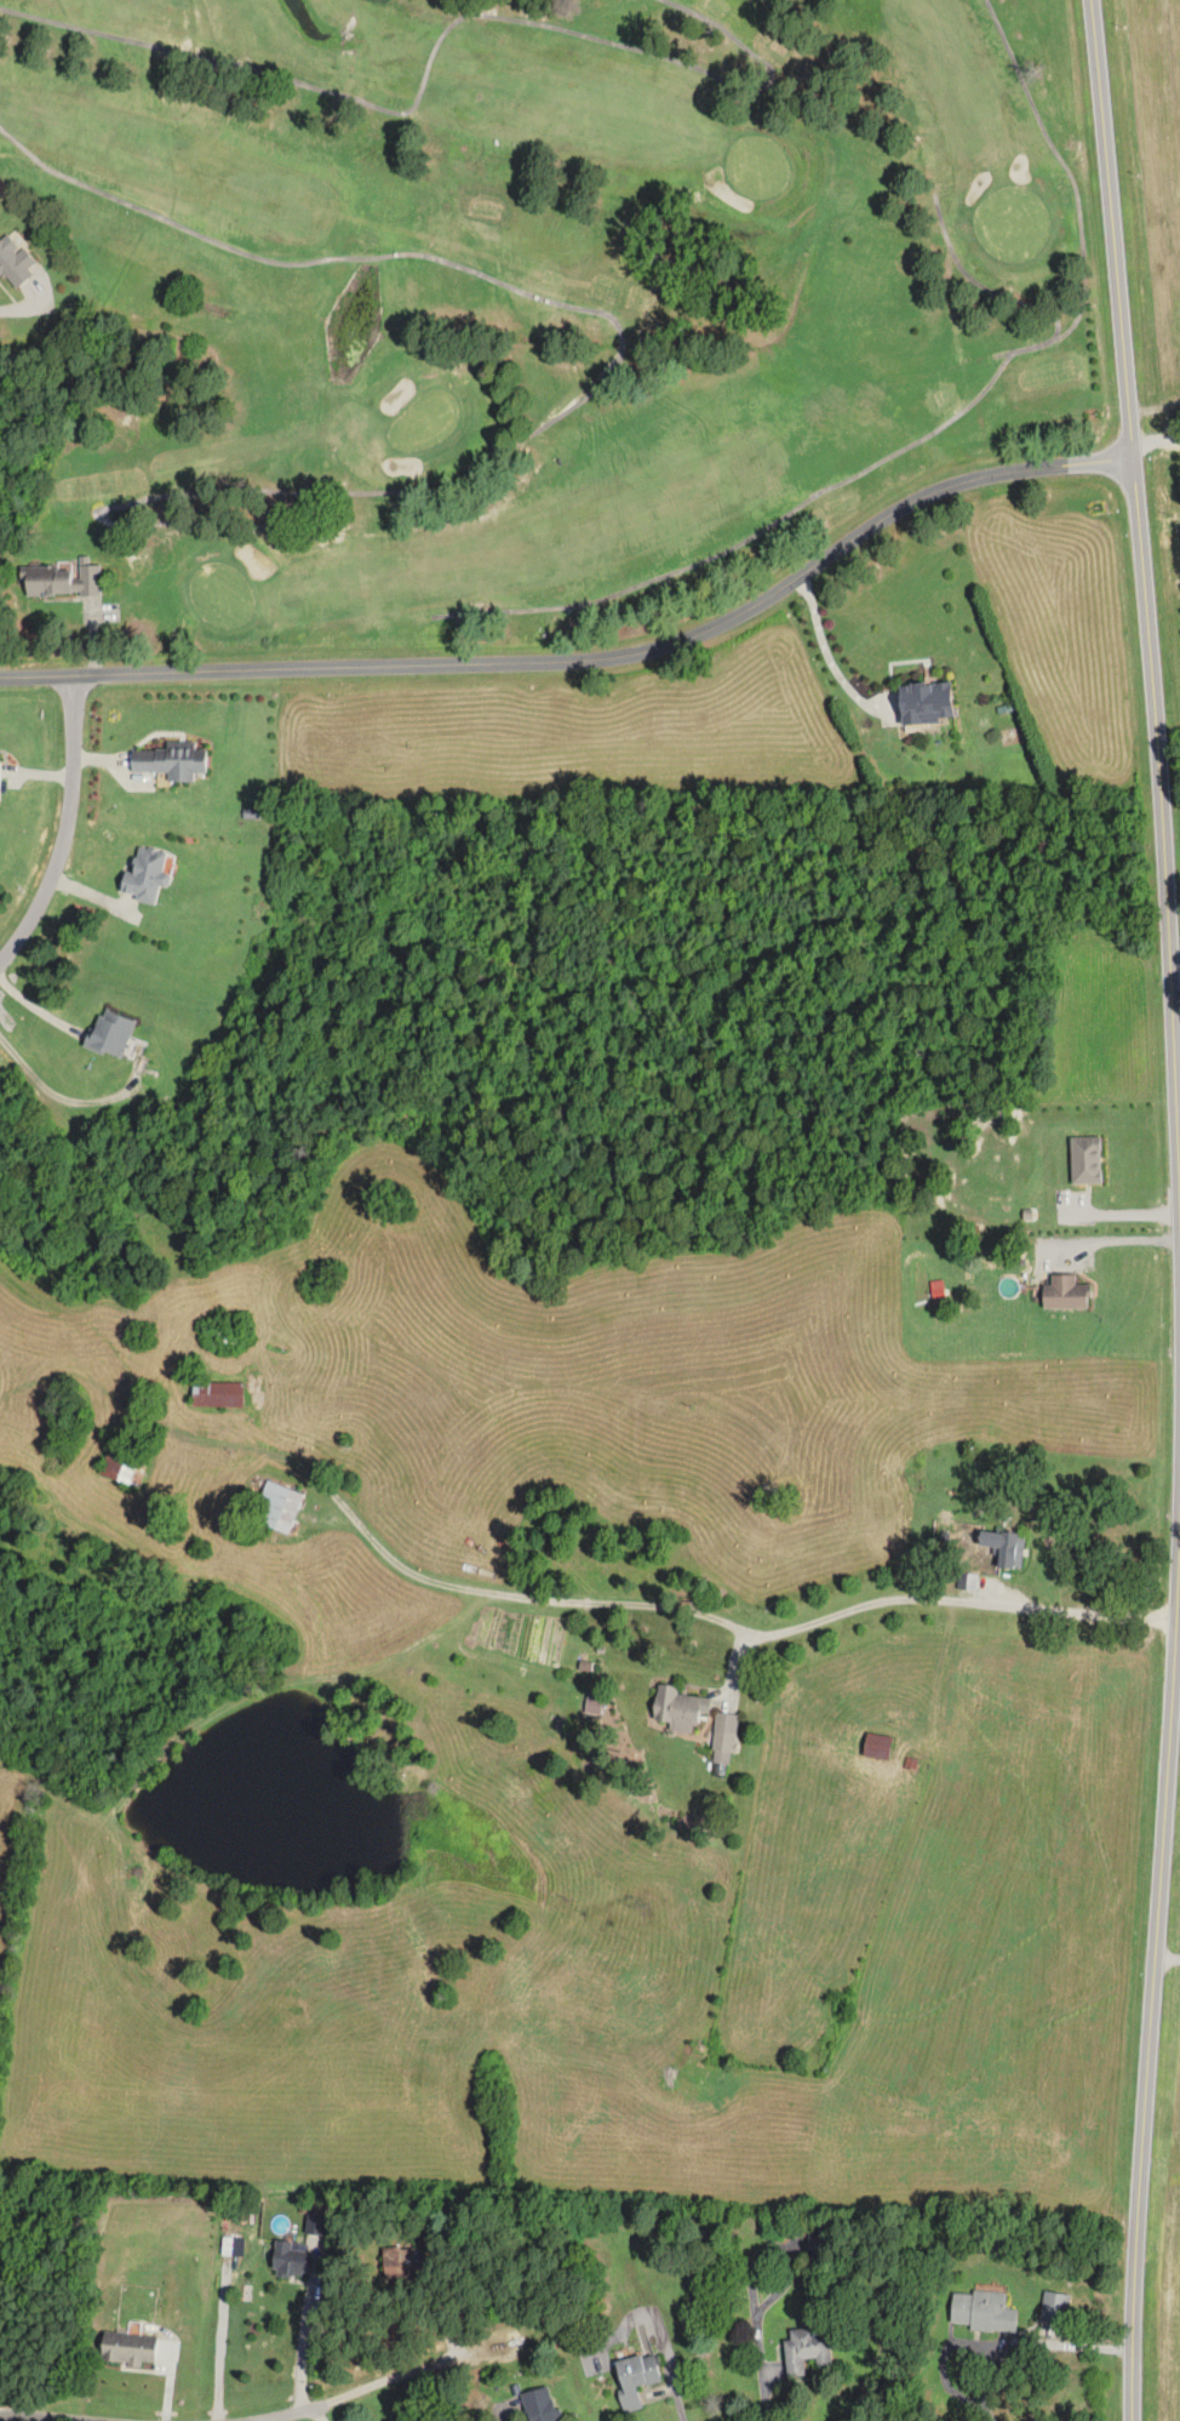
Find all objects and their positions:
building: (12, 262)
park: (537, 291)
road: (23, 309)
road: (1156, 439)
building: (61, 581)
road: (1145, 592)
road: (825, 653)
road: (589, 658)
building: (924, 702)
building: (171, 760)
road: (63, 832)
building: (144, 875)
road: (1174, 903)
road: (1174, 973)
building: (109, 1034)
road: (1178, 1100)
building: (1086, 1160)
road: (1122, 1212)
road: (1121, 1239)
building: (1065, 1294)
building: (225, 1332)
building: (217, 1393)
building: (122, 1467)
road: (323, 1479)
building: (276, 1507)
building: (999, 1547)
road: (821, 1621)
building: (678, 1709)
building: (724, 1725)
building: (877, 1747)
road: (1167, 1959)
road: (1152, 1976)
building: (315, 2223)
building: (818, 2239)
building: (290, 2259)
building: (400, 2261)
building: (1054, 2306)
building: (983, 2311)
road: (298, 2340)
road: (958, 2341)
road: (1052, 2345)
building: (127, 2347)
building: (804, 2349)
building: (635, 2375)
road: (384, 2386)
road: (764, 2391)
building: (538, 2404)
road: (990, 2413)
road: (36, 2416)

